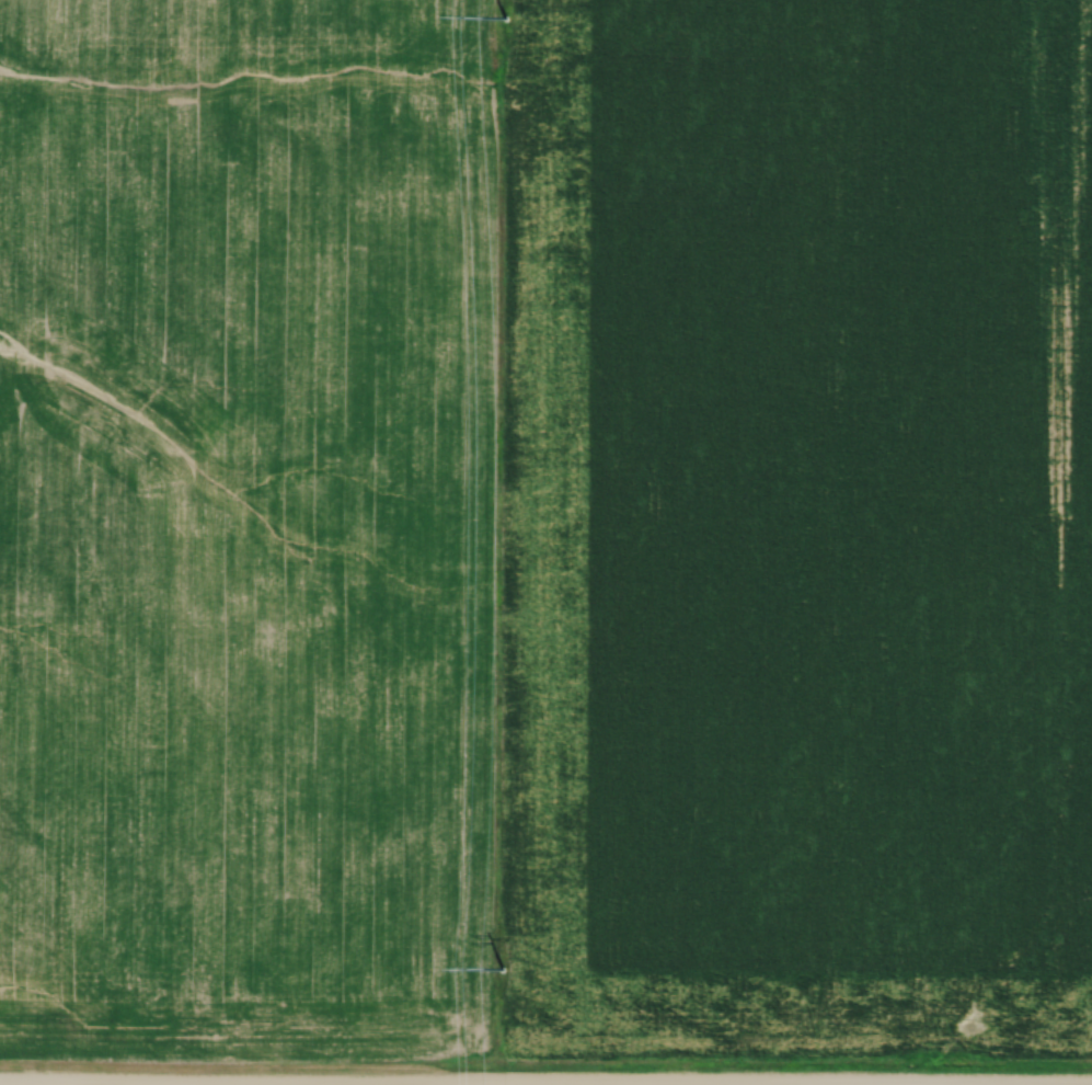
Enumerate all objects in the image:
power tower: (501, 15)
power tower: (505, 969)
road: (545, 1081)

